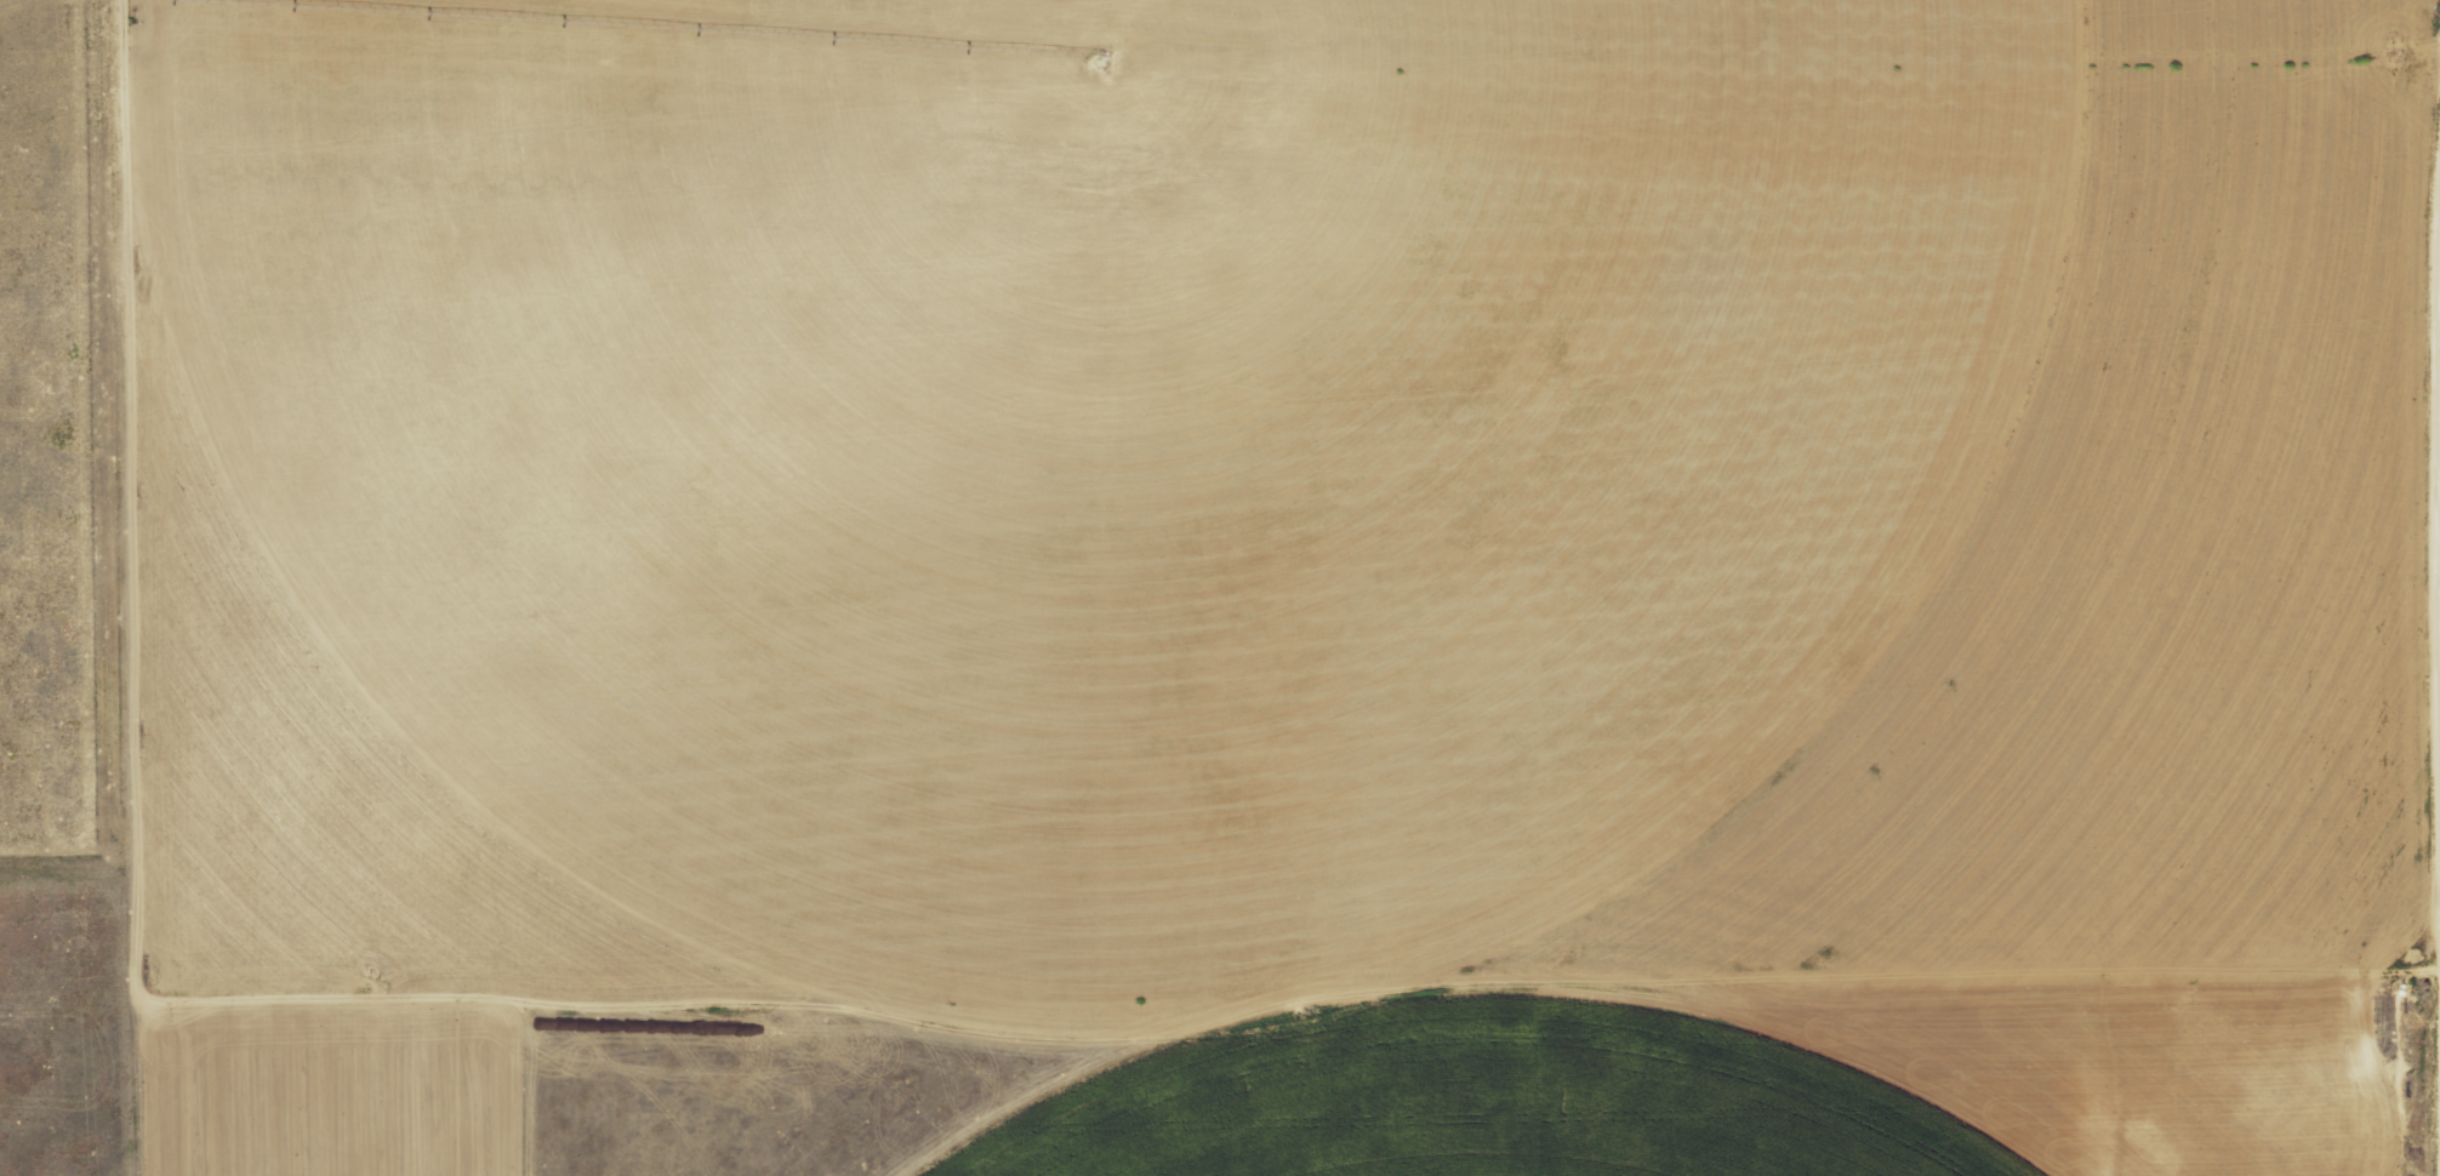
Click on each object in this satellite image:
road: (1241, 997)

